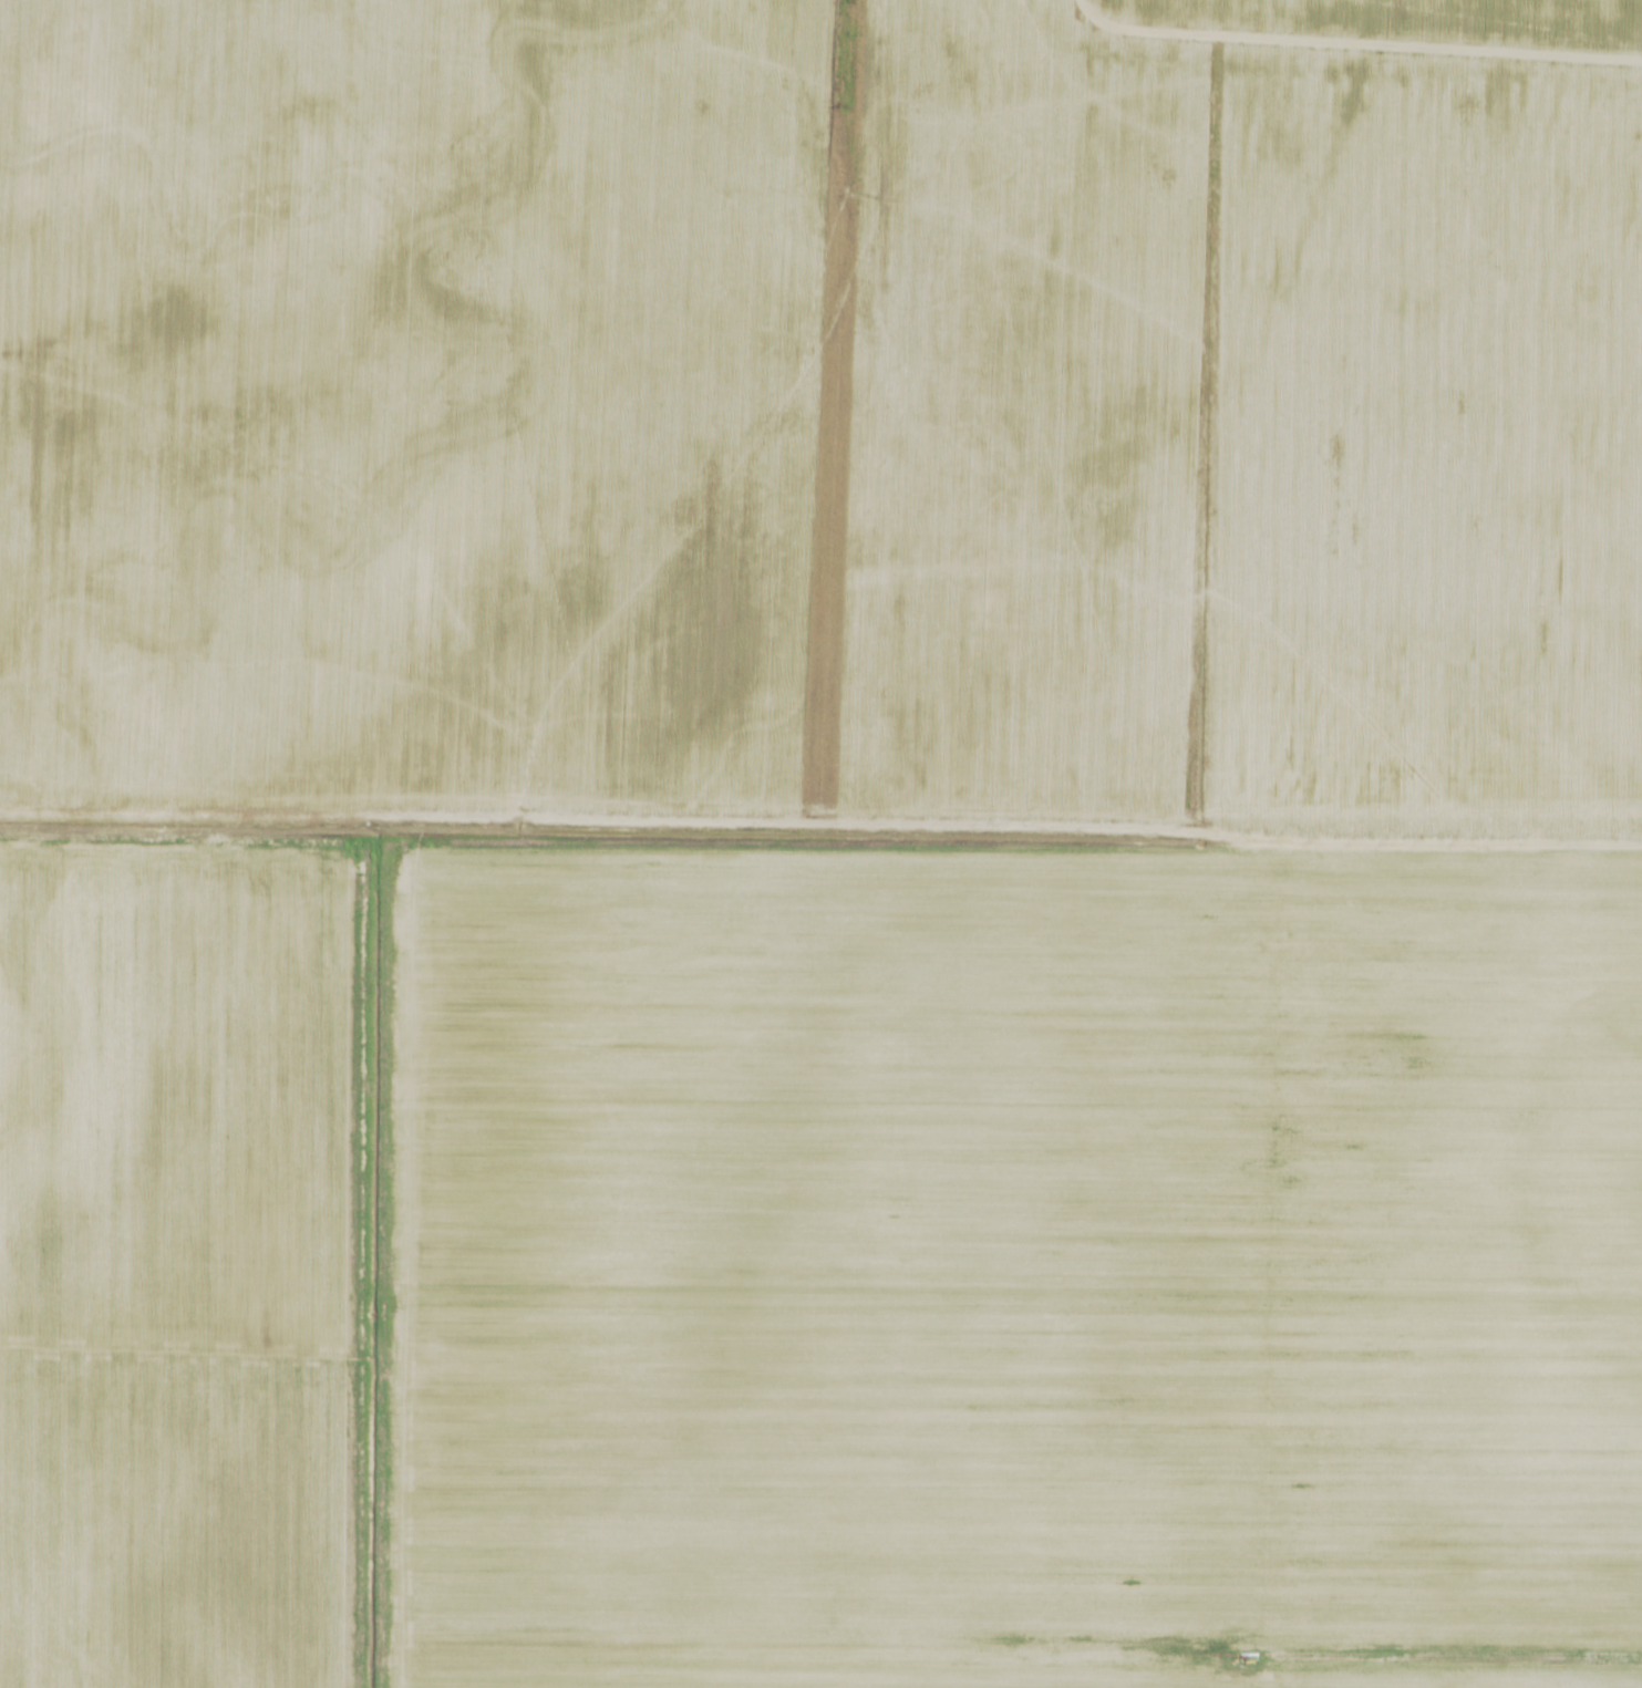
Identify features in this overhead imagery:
road: (1356, 49)
road: (822, 824)
road: (1439, 1653)

